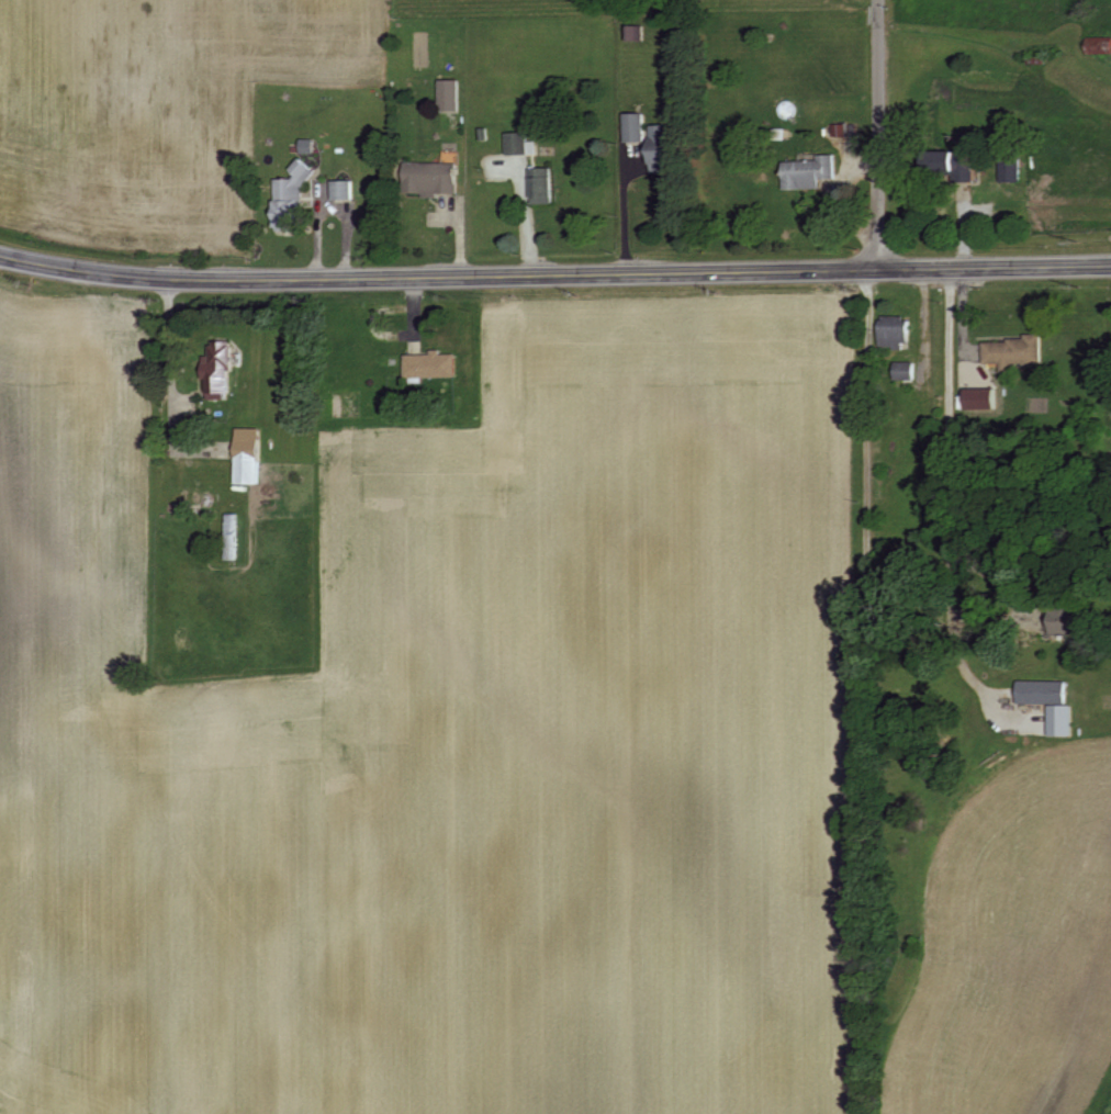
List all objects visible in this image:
building: (452, 94)
building: (638, 127)
road: (878, 134)
building: (521, 143)
building: (664, 146)
building: (305, 170)
building: (974, 171)
building: (1013, 171)
building: (813, 172)
building: (436, 178)
building: (546, 185)
building: (346, 190)
road: (626, 214)
building: (288, 221)
road: (554, 274)
building: (899, 333)
building: (1014, 352)
building: (434, 364)
building: (222, 368)
building: (908, 370)
building: (252, 455)
road: (947, 491)
building: (236, 529)
building: (1076, 621)
building: (1053, 704)

